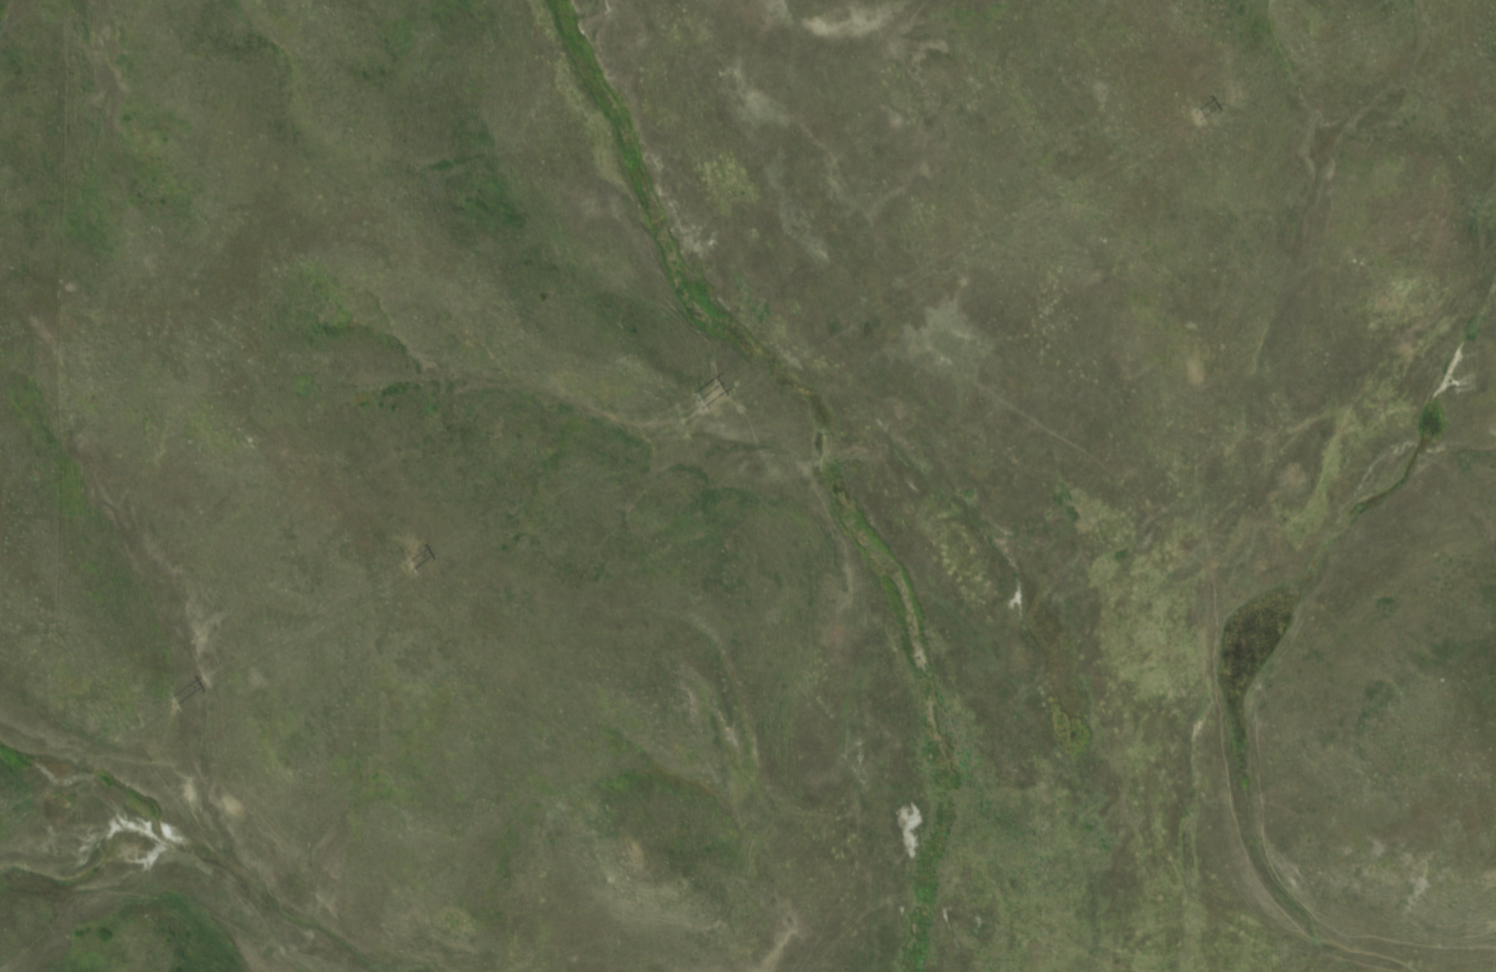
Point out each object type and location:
power tower: (1197, 117)
power tower: (699, 402)
power tower: (410, 567)
power tower: (174, 703)

